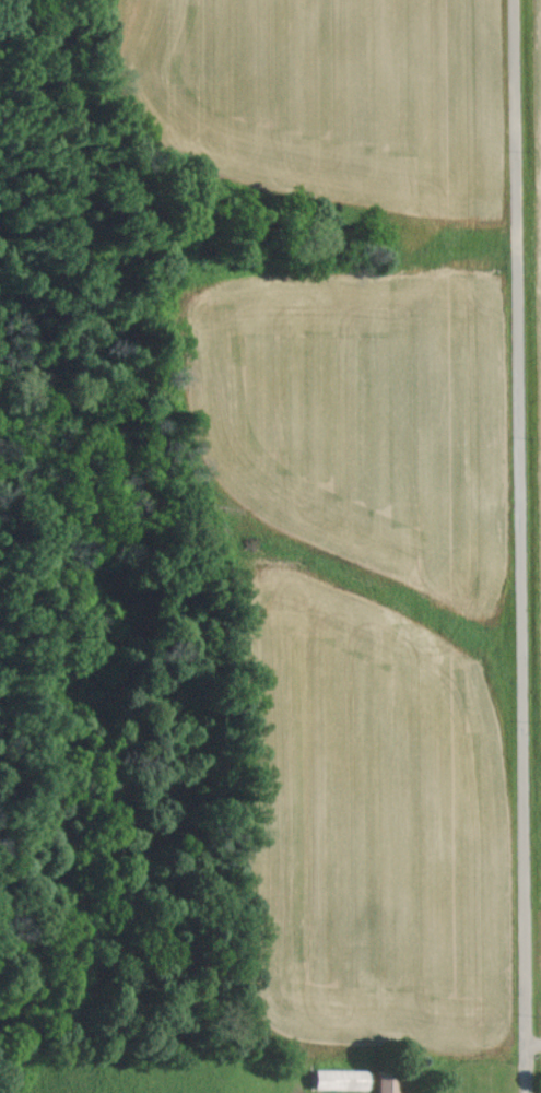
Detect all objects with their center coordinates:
road: (524, 545)
road: (533, 1045)
building: (336, 1079)
building: (385, 1082)

